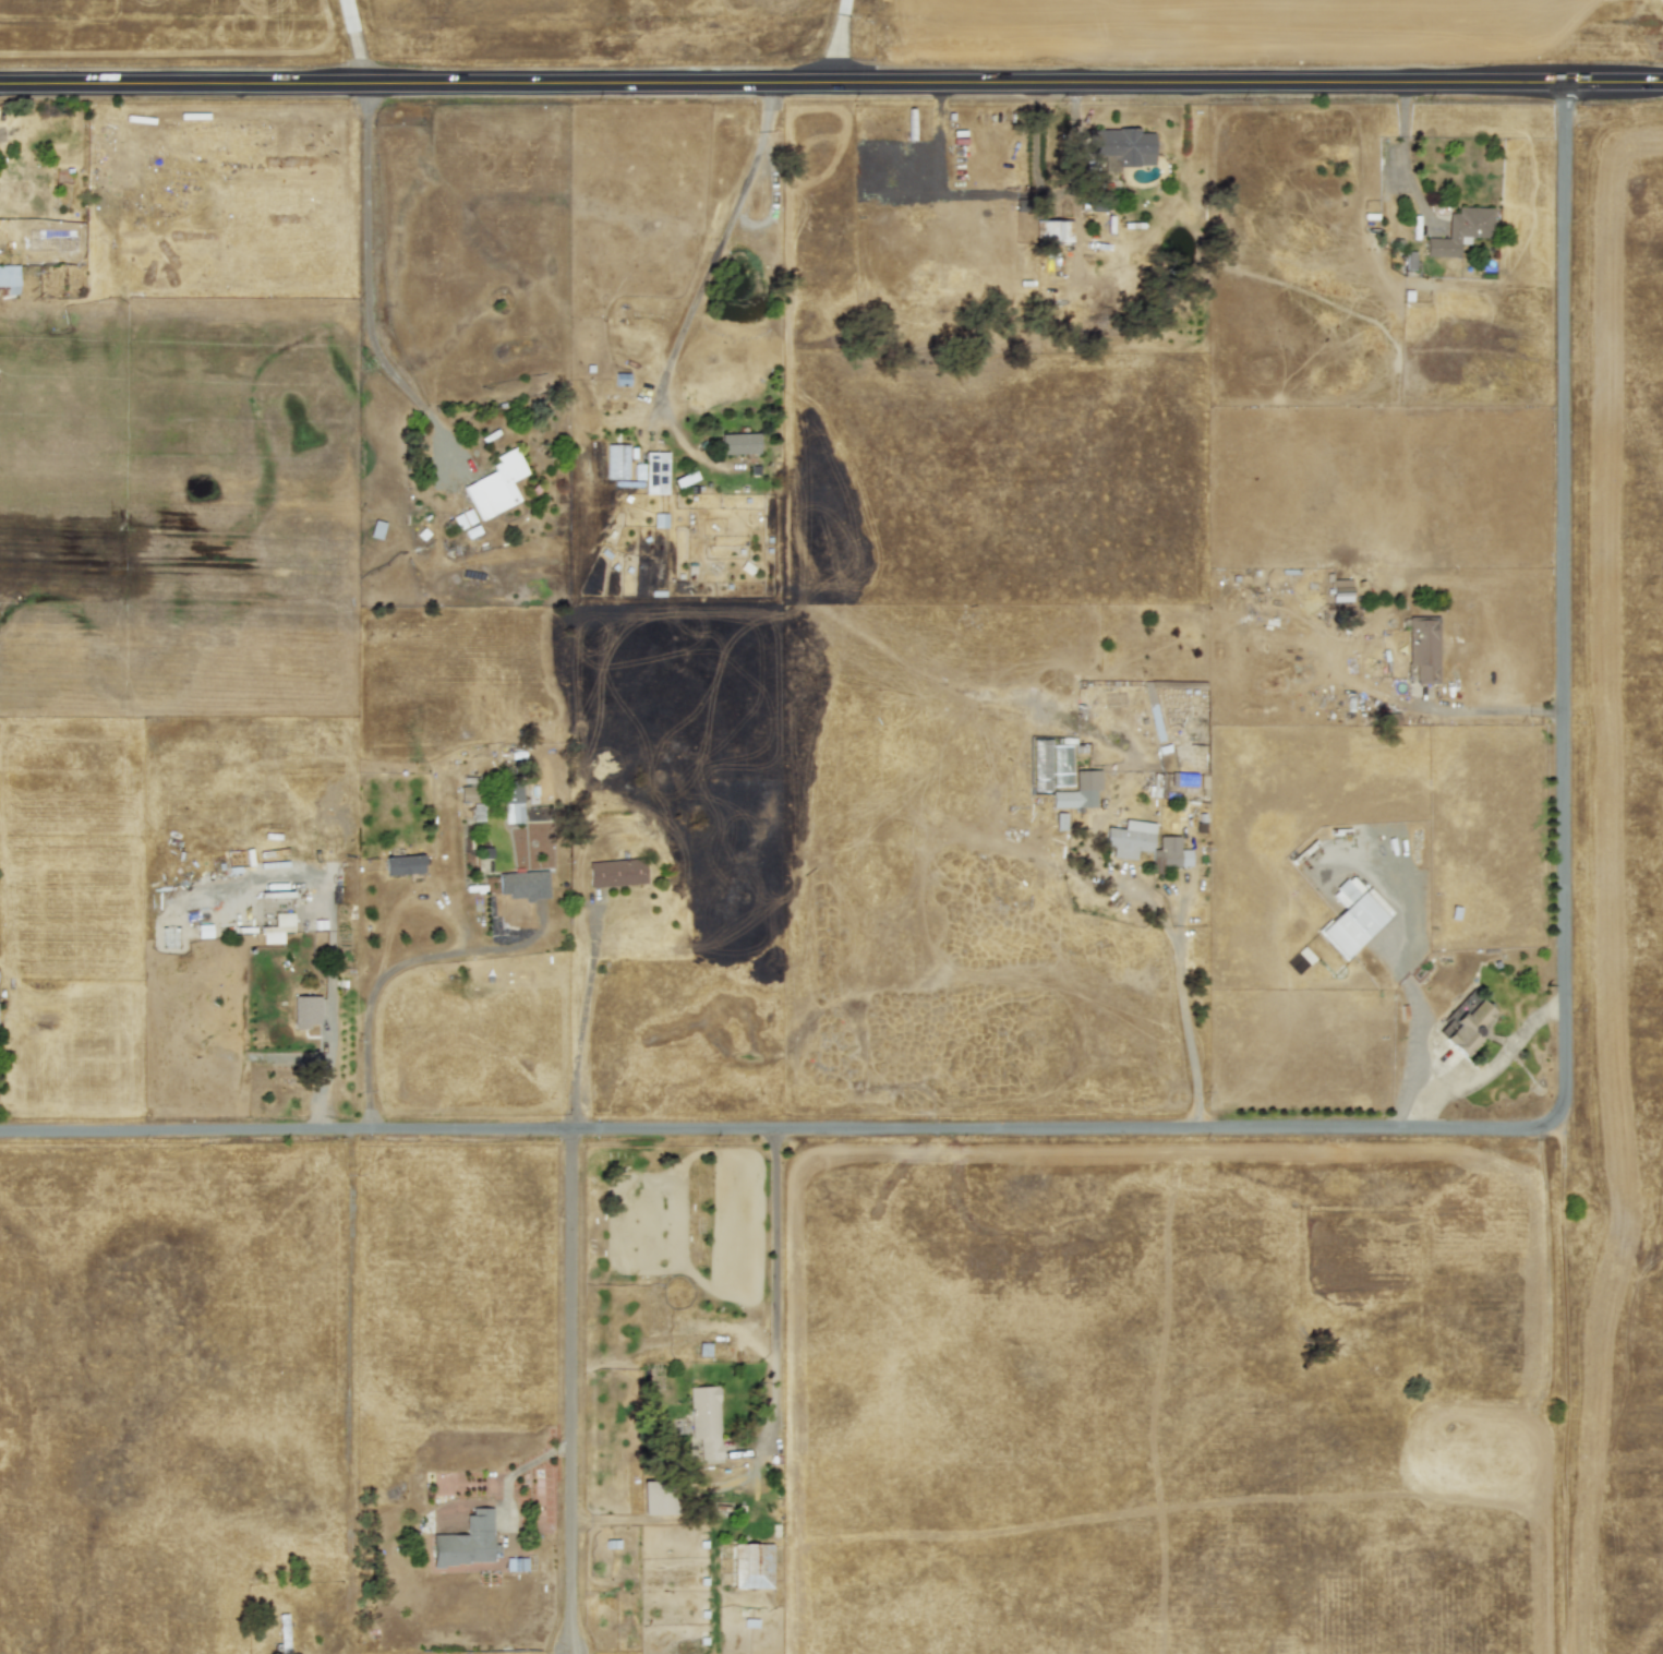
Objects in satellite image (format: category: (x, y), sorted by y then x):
road: (358, 41)
road: (836, 41)
road: (1613, 82)
road: (782, 84)
building: (1, 133)
building: (1121, 146)
road: (1402, 157)
building: (1460, 230)
building: (1053, 231)
road: (718, 243)
building: (9, 278)
road: (367, 286)
building: (620, 379)
building: (738, 443)
building: (616, 462)
building: (652, 471)
building: (495, 486)
building: (659, 519)
building: (376, 529)
building: (1340, 590)
building: (1423, 647)
road: (1475, 711)
building: (1158, 786)
building: (1078, 790)
building: (468, 794)
building: (511, 801)
building: (477, 812)
building: (1129, 838)
building: (1168, 853)
building: (402, 864)
building: (615, 872)
building: (522, 884)
building: (1351, 918)
building: (277, 928)
building: (203, 931)
road: (394, 968)
road: (1180, 978)
building: (304, 1011)
road: (581, 1017)
building: (1466, 1027)
road: (1490, 1066)
road: (1297, 1129)
road: (773, 1290)
road: (728, 1331)
building: (702, 1349)
road: (570, 1392)
building: (704, 1419)
building: (654, 1498)
building: (466, 1542)
building: (515, 1563)
building: (751, 1566)
road: (568, 1653)
road: (570, 1653)

